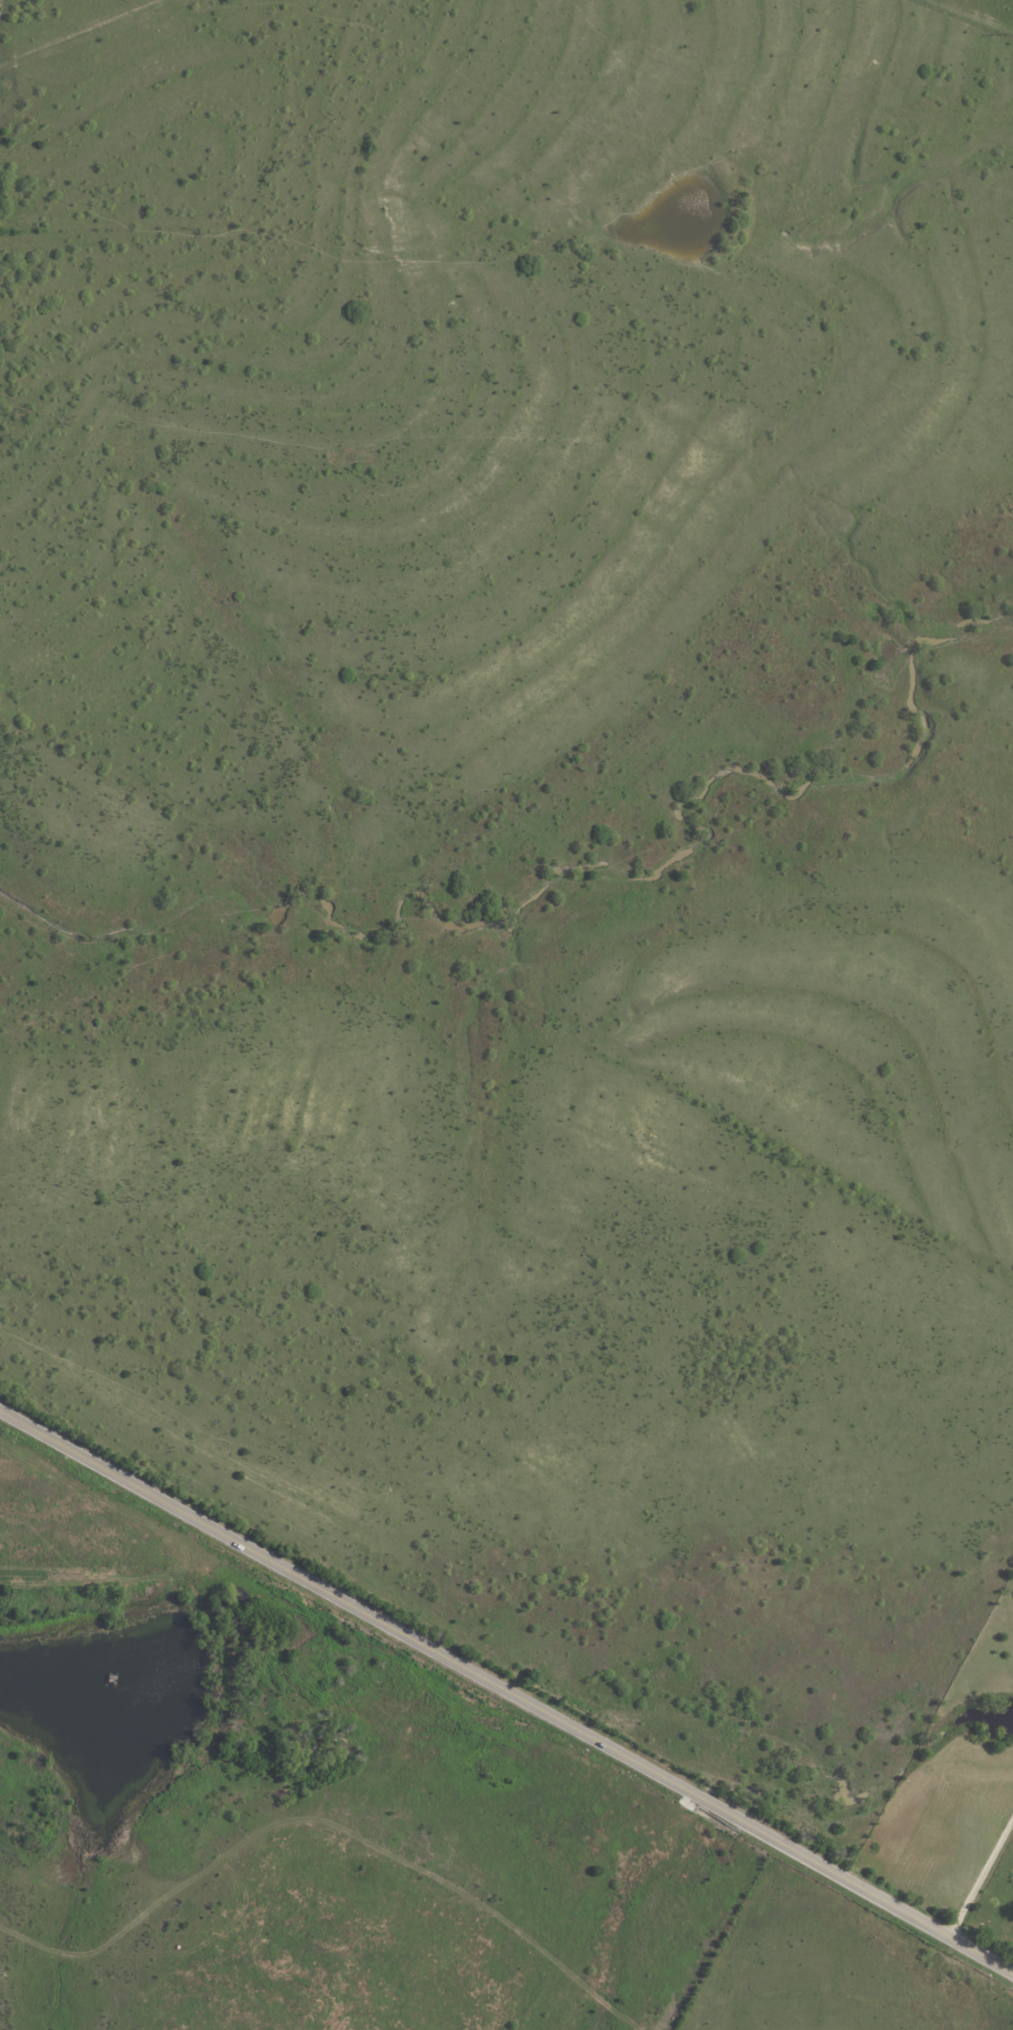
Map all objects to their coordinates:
road: (506, 1695)
road: (980, 1879)

